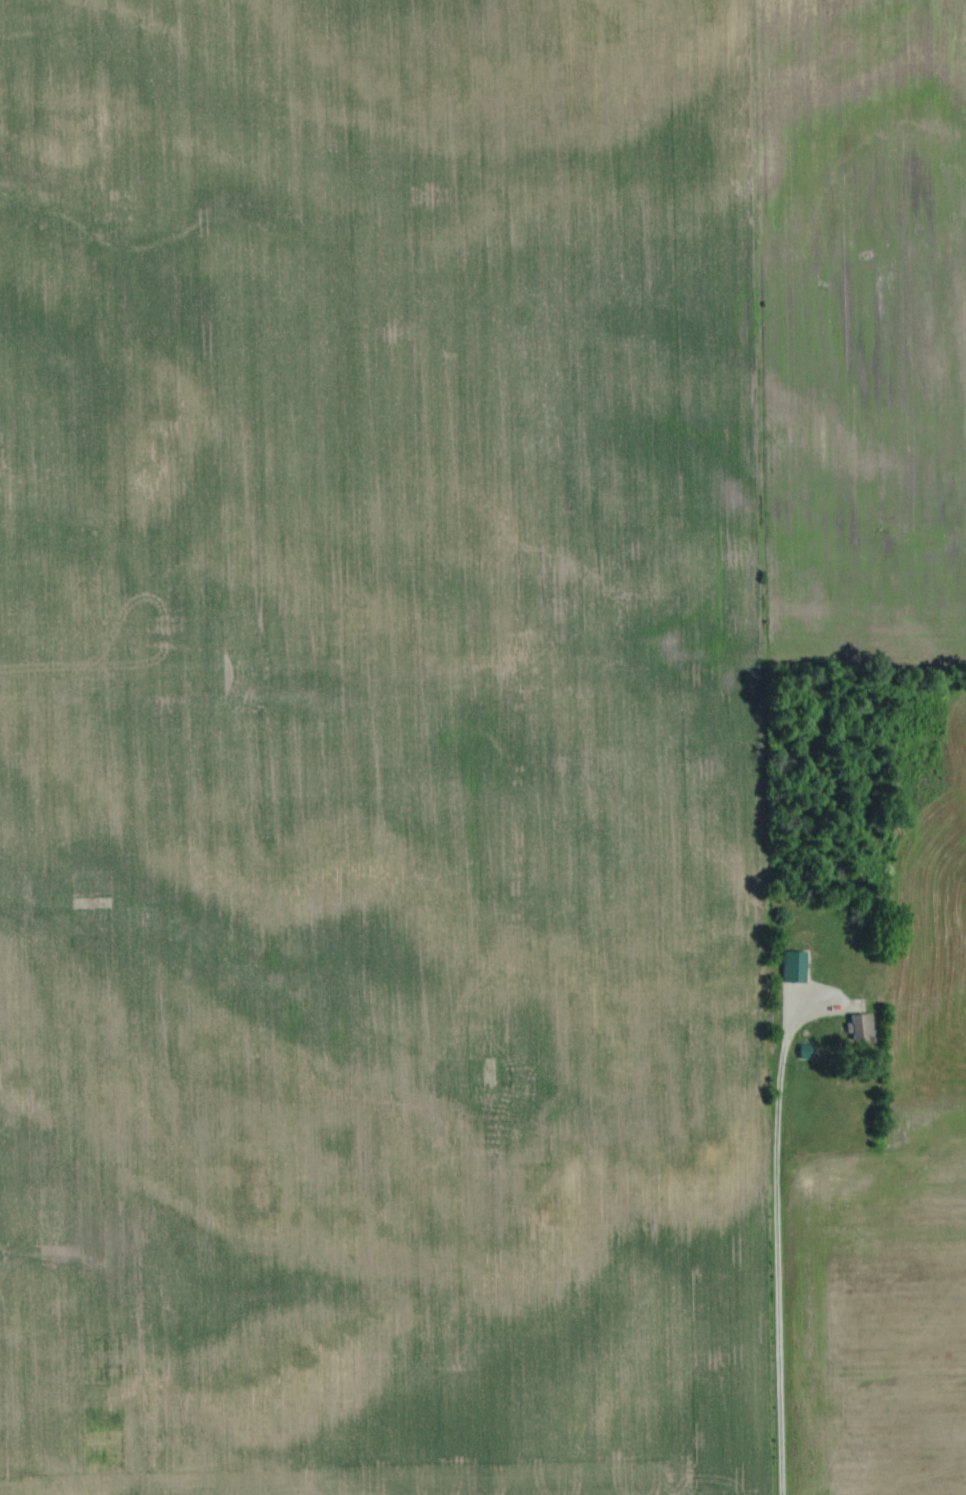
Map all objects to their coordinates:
building: (799, 964)
building: (865, 1023)
road: (777, 1269)

